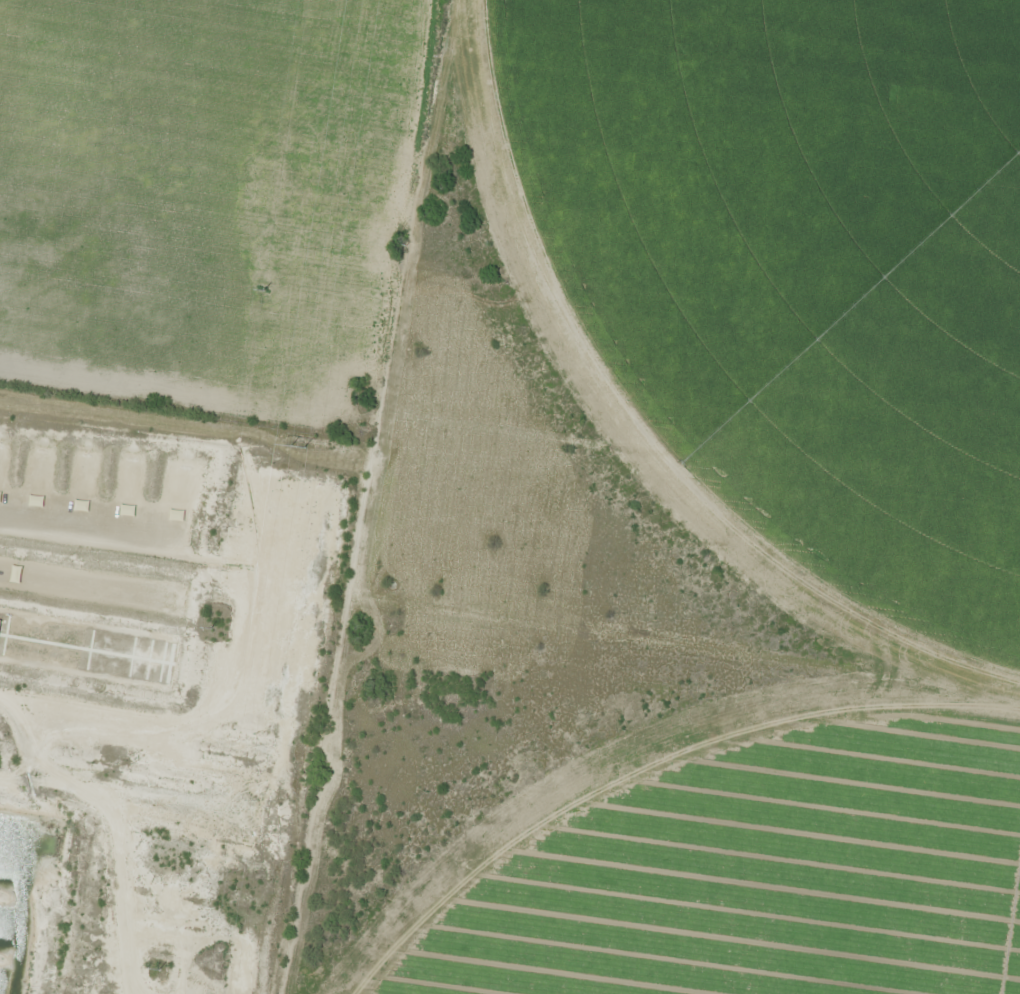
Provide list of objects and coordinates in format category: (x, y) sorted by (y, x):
power tower: (296, 444)
road: (357, 499)

